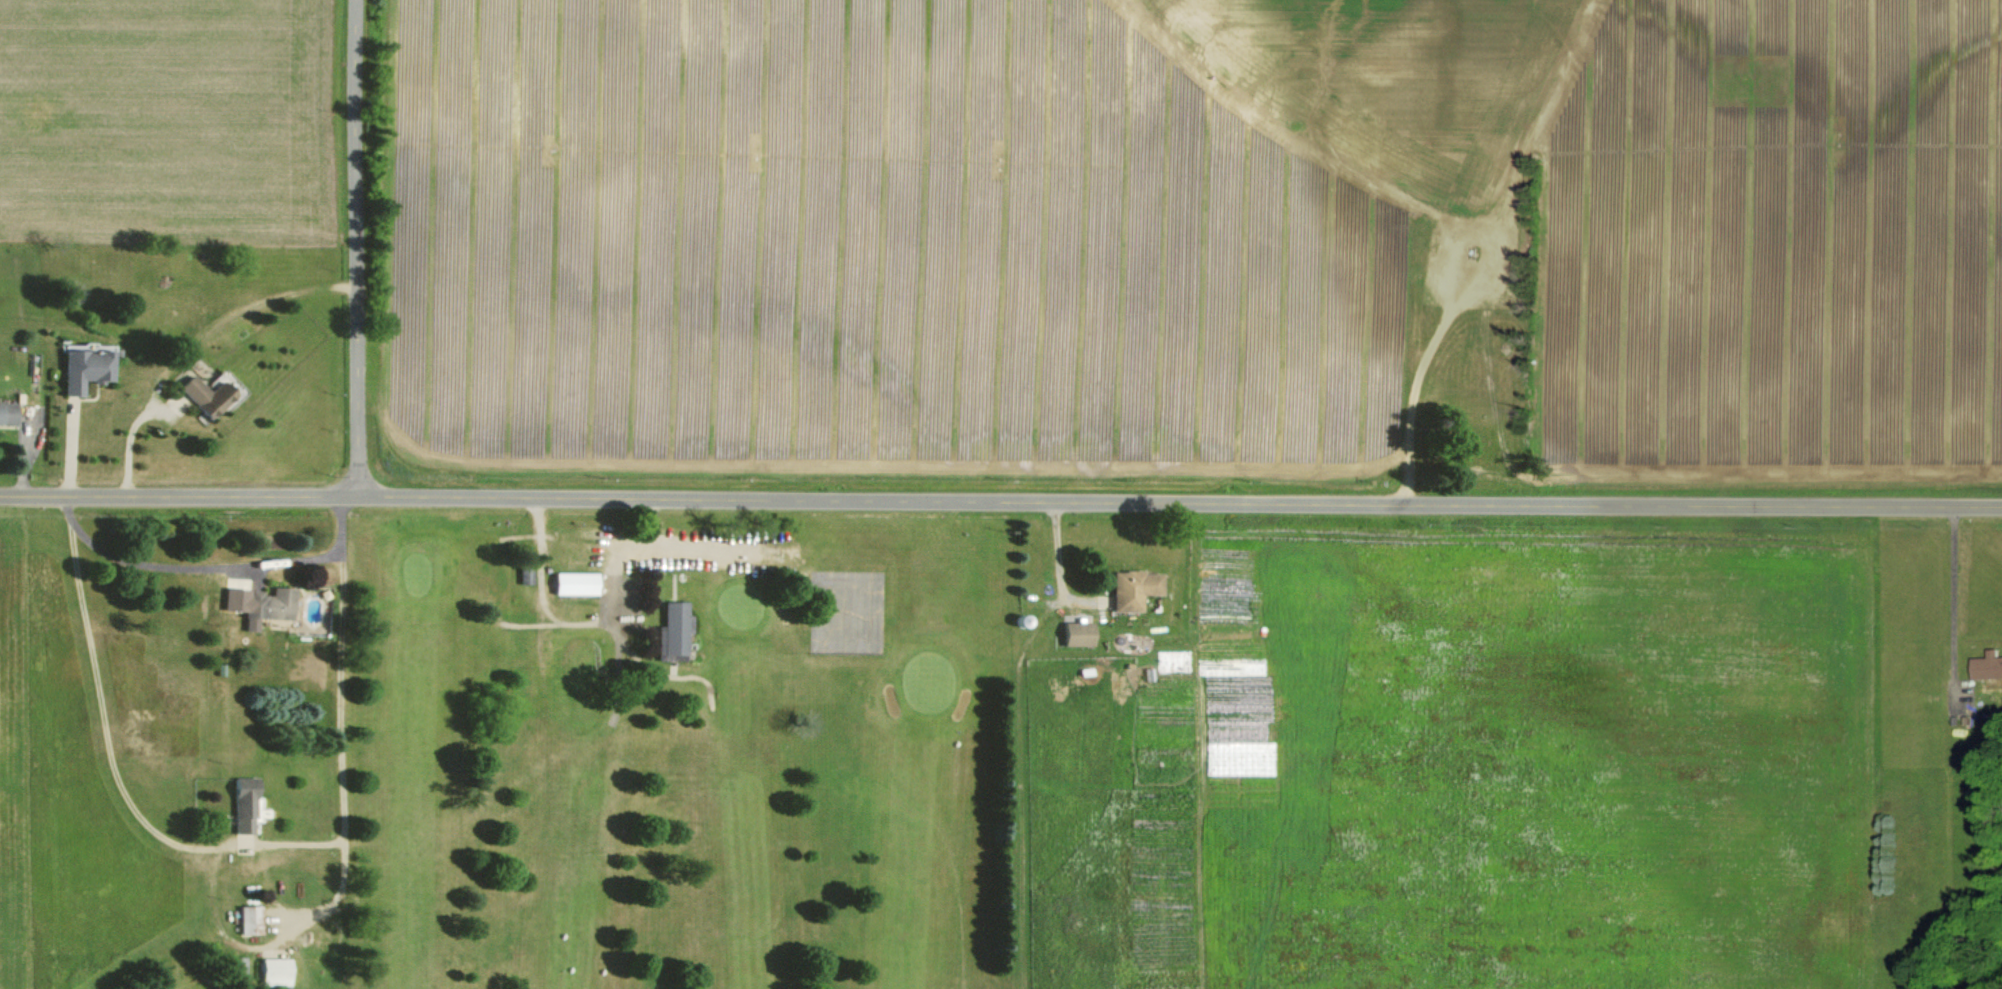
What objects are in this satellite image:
road: (364, 247)
road: (241, 310)
building: (82, 366)
road: (1419, 380)
building: (203, 395)
road: (129, 441)
road: (1000, 501)
parking lot: (666, 552)
road: (1062, 557)
road: (210, 564)
building: (574, 583)
building: (1135, 589)
road: (1949, 597)
building: (261, 604)
building: (1078, 634)
building: (1986, 666)
park: (687, 755)
building: (244, 805)
road: (232, 846)
building: (251, 920)
building: (236, 965)
building: (274, 972)

